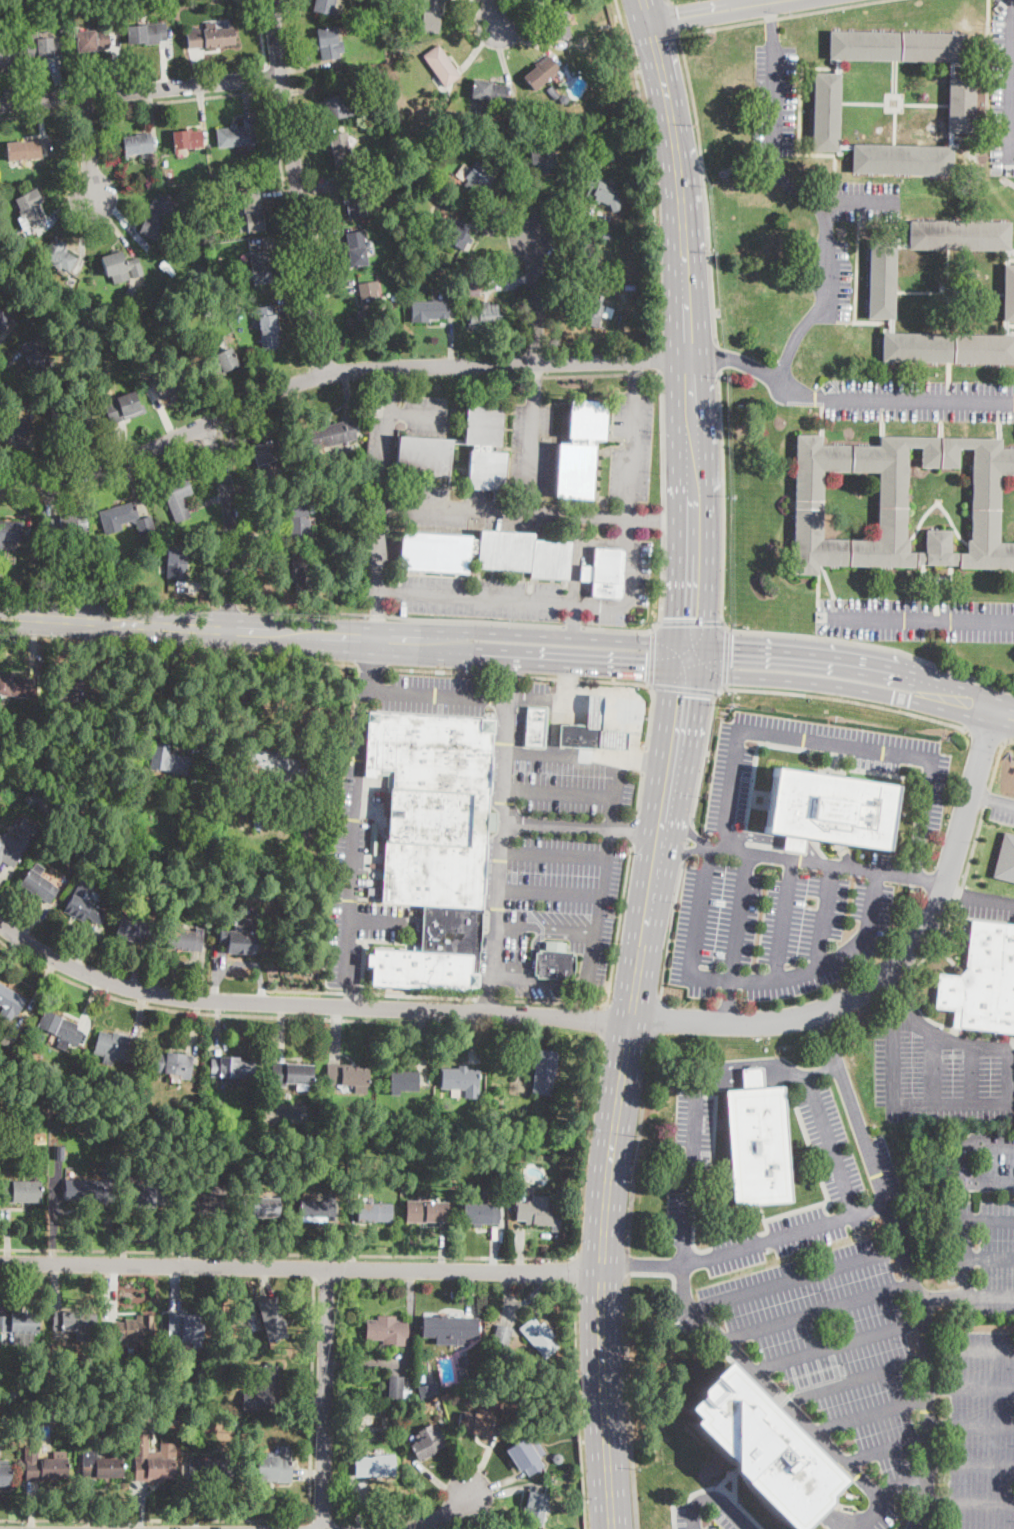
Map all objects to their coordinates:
building: (542, 0)
building: (544, 1)
road: (668, 1)
building: (77, 3)
building: (56, 4)
building: (324, 6)
building: (385, 6)
building: (6, 10)
road: (717, 11)
road: (494, 13)
building: (430, 15)
road: (673, 16)
road: (781, 16)
road: (773, 22)
building: (559, 24)
road: (262, 33)
building: (147, 34)
building: (608, 35)
building: (211, 36)
building: (92, 41)
building: (328, 44)
building: (896, 47)
building: (43, 48)
building: (6, 53)
building: (441, 66)
road: (988, 69)
building: (541, 74)
building: (378, 77)
road: (268, 78)
road: (140, 89)
building: (488, 91)
building: (552, 91)
road: (1011, 92)
parking lot: (1003, 95)
building: (563, 98)
parking lot: (773, 98)
building: (617, 104)
building: (961, 105)
building: (337, 106)
road: (86, 109)
building: (826, 112)
road: (37, 114)
building: (354, 126)
building: (592, 129)
building: (237, 134)
building: (187, 140)
road: (278, 143)
building: (137, 144)
road: (88, 147)
building: (340, 150)
building: (23, 151)
building: (609, 153)
building: (393, 158)
building: (903, 160)
building: (543, 161)
road: (649, 172)
building: (226, 175)
building: (478, 175)
building: (160, 182)
road: (704, 185)
road: (298, 187)
building: (599, 191)
building: (353, 196)
road: (123, 198)
parking lot: (863, 200)
building: (449, 201)
road: (852, 201)
building: (202, 206)
building: (29, 208)
road: (143, 209)
road: (818, 209)
building: (251, 210)
building: (159, 216)
building: (779, 220)
building: (459, 234)
building: (618, 235)
building: (960, 235)
building: (356, 248)
building: (59, 255)
building: (587, 255)
building: (373, 260)
building: (120, 267)
building: (258, 268)
parking lot: (841, 272)
building: (436, 273)
building: (398, 274)
building: (882, 280)
building: (131, 290)
building: (1008, 294)
road: (535, 299)
building: (369, 303)
building: (429, 310)
building: (593, 311)
building: (207, 313)
building: (485, 313)
building: (3, 320)
building: (268, 327)
building: (129, 328)
building: (948, 348)
building: (36, 354)
road: (717, 356)
road: (657, 358)
road: (739, 360)
building: (219, 362)
road: (636, 366)
building: (130, 369)
road: (334, 372)
road: (593, 372)
road: (535, 382)
building: (172, 384)
road: (897, 398)
parking lot: (920, 399)
building: (36, 403)
building: (122, 407)
road: (415, 411)
parking lot: (425, 413)
building: (74, 415)
building: (12, 426)
building: (330, 435)
road: (209, 437)
road: (662, 440)
parking lot: (631, 444)
parking lot: (529, 446)
building: (486, 448)
building: (580, 450)
building: (423, 456)
road: (531, 457)
building: (265, 459)
road: (377, 478)
road: (102, 483)
building: (177, 497)
building: (898, 503)
parking lot: (462, 507)
road: (502, 509)
building: (119, 515)
road: (245, 516)
road: (660, 518)
road: (662, 521)
building: (300, 522)
road: (233, 524)
building: (67, 525)
building: (12, 532)
road: (576, 542)
building: (485, 554)
building: (118, 561)
building: (176, 563)
building: (303, 572)
building: (605, 573)
building: (95, 574)
parking lot: (625, 585)
parking lot: (478, 596)
road: (108, 600)
road: (616, 603)
road: (229, 606)
road: (305, 609)
road: (375, 613)
road: (376, 614)
road: (658, 616)
traffic signals: (691, 616)
road: (924, 618)
road: (572, 619)
parking lot: (917, 619)
road: (473, 620)
road: (690, 622)
road: (572, 625)
road: (232, 627)
road: (745, 630)
road: (574, 637)
traffic signals: (732, 649)
road: (180, 653)
road: (725, 655)
road: (812, 655)
road: (651, 657)
road: (572, 659)
traffic signals: (645, 664)
road: (372, 667)
road: (443, 670)
road: (511, 674)
road: (511, 676)
road: (618, 680)
road: (806, 681)
building: (14, 686)
road: (570, 687)
road: (682, 687)
road: (774, 691)
building: (75, 692)
road: (363, 692)
traffic signals: (682, 694)
road: (467, 695)
road: (589, 702)
road: (969, 703)
road: (616, 704)
parking lot: (637, 714)
road: (596, 718)
building: (535, 727)
road: (554, 727)
building: (585, 728)
road: (607, 730)
road: (621, 730)
road: (988, 733)
building: (614, 740)
road: (833, 745)
road: (563, 754)
road: (646, 759)
building: (169, 760)
road: (643, 760)
road: (997, 760)
road: (672, 764)
building: (274, 767)
building: (194, 782)
road: (558, 793)
road: (638, 794)
road: (982, 798)
building: (39, 799)
building: (192, 799)
road: (987, 799)
parking lot: (729, 800)
road: (1004, 804)
parking lot: (1001, 808)
building: (829, 810)
building: (490, 822)
building: (258, 823)
road: (684, 823)
road: (580, 825)
parking lot: (540, 829)
road: (633, 830)
building: (373, 838)
road: (500, 839)
road: (776, 840)
building: (17, 841)
building: (433, 842)
road: (687, 843)
road: (553, 854)
road: (678, 856)
building: (1006, 859)
road: (824, 862)
road: (349, 864)
building: (277, 869)
road: (604, 871)
building: (37, 883)
building: (327, 889)
parking lot: (357, 890)
road: (550, 892)
road: (952, 892)
road: (989, 898)
parking lot: (986, 903)
building: (83, 907)
road: (698, 909)
road: (740, 915)
road: (824, 915)
road: (783, 918)
road: (378, 922)
road: (619, 924)
parking lot: (778, 925)
road: (512, 927)
road: (671, 929)
building: (133, 930)
road: (561, 930)
road: (937, 938)
building: (183, 940)
building: (238, 943)
road: (533, 950)
building: (555, 965)
road: (813, 968)
building: (983, 981)
road: (542, 983)
road: (352, 992)
road: (371, 994)
road: (492, 996)
road: (489, 999)
building: (11, 1000)
road: (728, 1000)
road: (554, 1002)
road: (229, 1013)
road: (657, 1014)
road: (584, 1018)
road: (604, 1021)
road: (830, 1026)
building: (60, 1029)
road: (936, 1032)
building: (10, 1035)
building: (115, 1046)
road: (893, 1052)
building: (172, 1062)
road: (765, 1062)
road: (933, 1066)
building: (231, 1067)
parking lot: (939, 1071)
building: (545, 1072)
road: (972, 1073)
building: (292, 1074)
road: (1013, 1074)
building: (347, 1076)
road: (841, 1076)
building: (403, 1081)
building: (461, 1082)
building: (441, 1094)
road: (953, 1102)
building: (36, 1124)
parking lot: (695, 1127)
building: (510, 1134)
road: (637, 1141)
building: (757, 1142)
parking lot: (830, 1145)
road: (830, 1145)
road: (989, 1145)
road: (586, 1146)
building: (496, 1150)
building: (59, 1152)
parking lot: (980, 1159)
road: (964, 1163)
building: (462, 1175)
road: (989, 1181)
building: (22, 1191)
building: (89, 1191)
building: (151, 1198)
road: (685, 1199)
building: (212, 1201)
road: (886, 1205)
building: (261, 1207)
building: (316, 1209)
building: (371, 1211)
building: (534, 1211)
building: (427, 1213)
building: (481, 1214)
parking lot: (679, 1215)
road: (988, 1219)
road: (784, 1235)
road: (288, 1252)
road: (988, 1256)
road: (961, 1257)
parking lot: (981, 1257)
road: (628, 1262)
road: (641, 1264)
road: (301, 1265)
road: (312, 1265)
road: (574, 1273)
road: (664, 1273)
road: (796, 1276)
road: (987, 1296)
road: (818, 1311)
building: (272, 1317)
building: (72, 1320)
building: (19, 1323)
building: (183, 1328)
building: (450, 1328)
building: (127, 1330)
building: (388, 1331)
building: (502, 1332)
building: (540, 1336)
road: (839, 1344)
road: (970, 1347)
parking lot: (866, 1356)
building: (462, 1375)
road: (855, 1379)
building: (410, 1381)
road: (970, 1384)
building: (266, 1385)
building: (396, 1387)
building: (426, 1393)
building: (407, 1394)
road: (325, 1397)
building: (248, 1398)
road: (310, 1398)
road: (927, 1398)
road: (629, 1401)
building: (540, 1403)
road: (787, 1406)
road: (578, 1410)
road: (870, 1415)
building: (480, 1424)
road: (970, 1426)
building: (428, 1444)
building: (761, 1448)
road: (884, 1449)
building: (525, 1457)
building: (557, 1457)
building: (153, 1461)
road: (971, 1463)
building: (99, 1466)
building: (374, 1466)
building: (43, 1467)
building: (274, 1469)
building: (211, 1470)
building: (3, 1471)
road: (900, 1486)
road: (714, 1497)
road: (969, 1502)
building: (535, 1507)
parking lot: (711, 1513)
road: (444, 1514)
road: (937, 1515)
road: (869, 1516)
road: (154, 1519)
road: (310, 1524)

